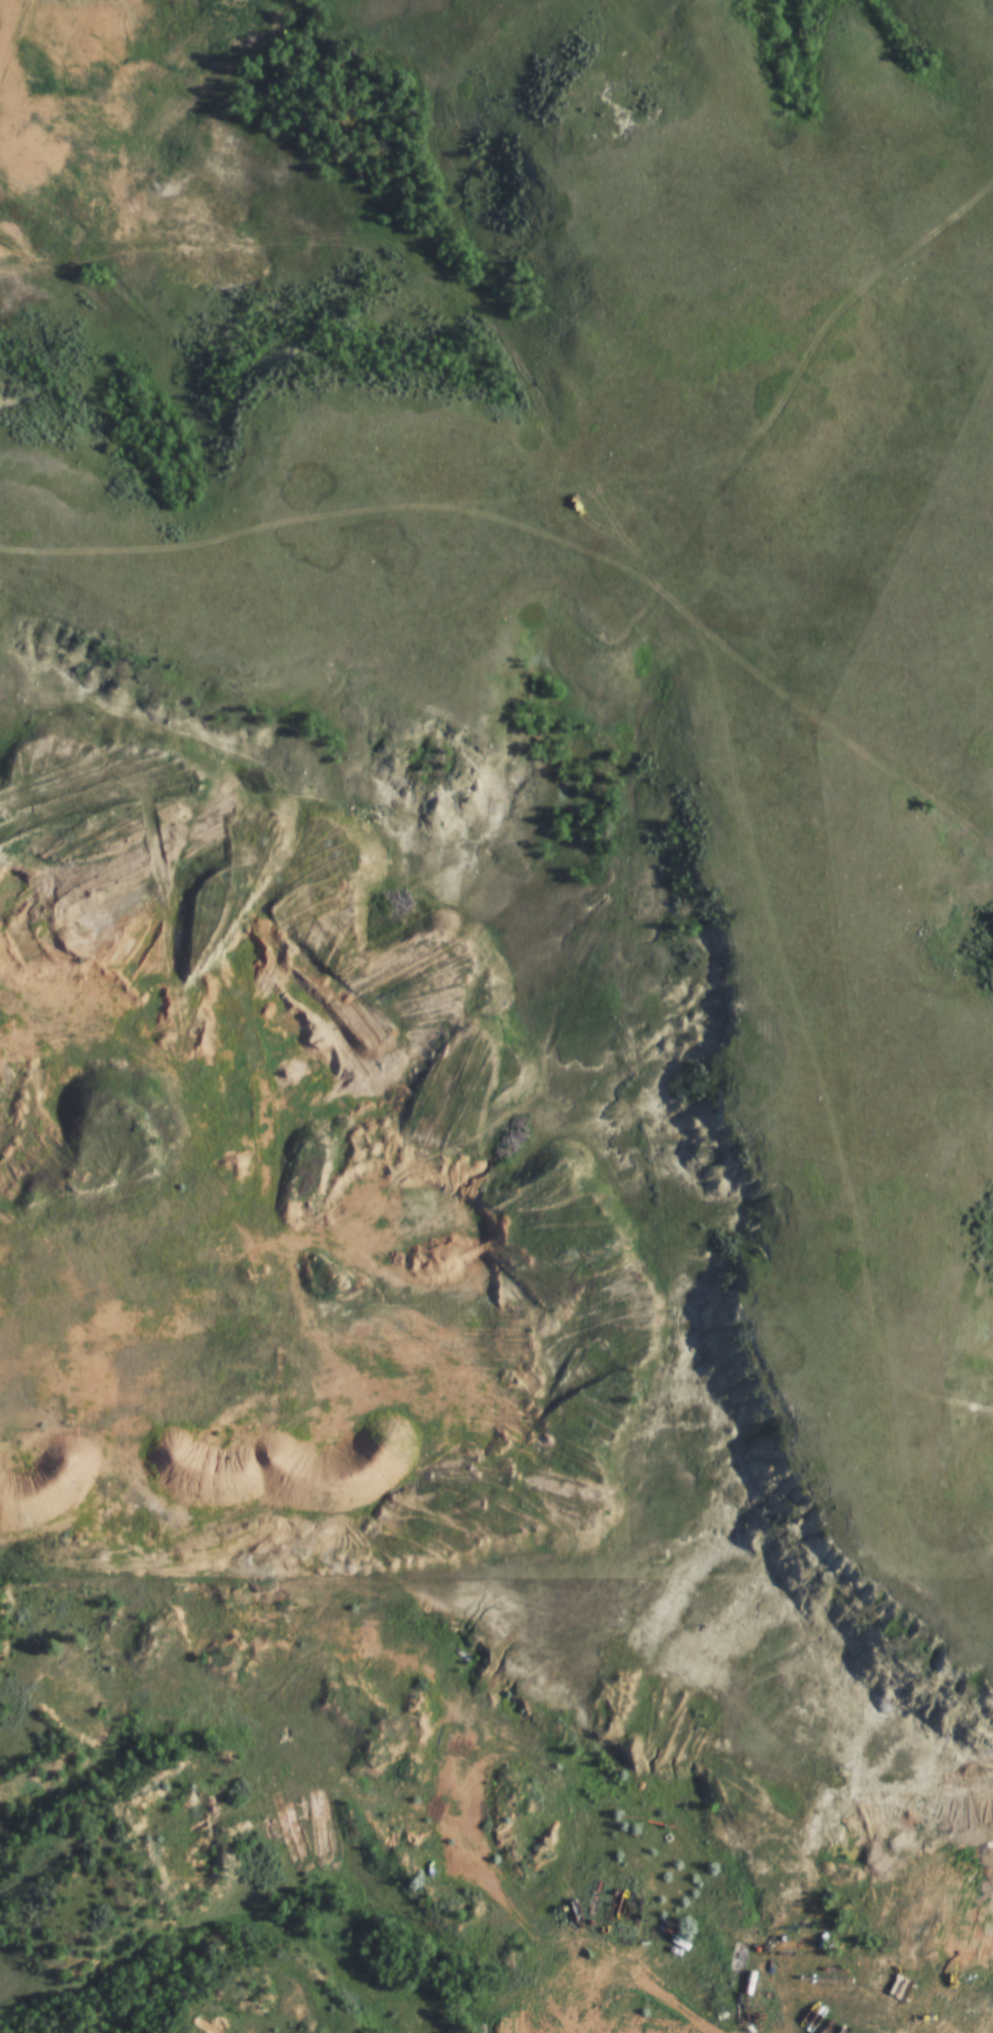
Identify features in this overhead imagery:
quarry: (490, 1828)
road: (762, 1942)

